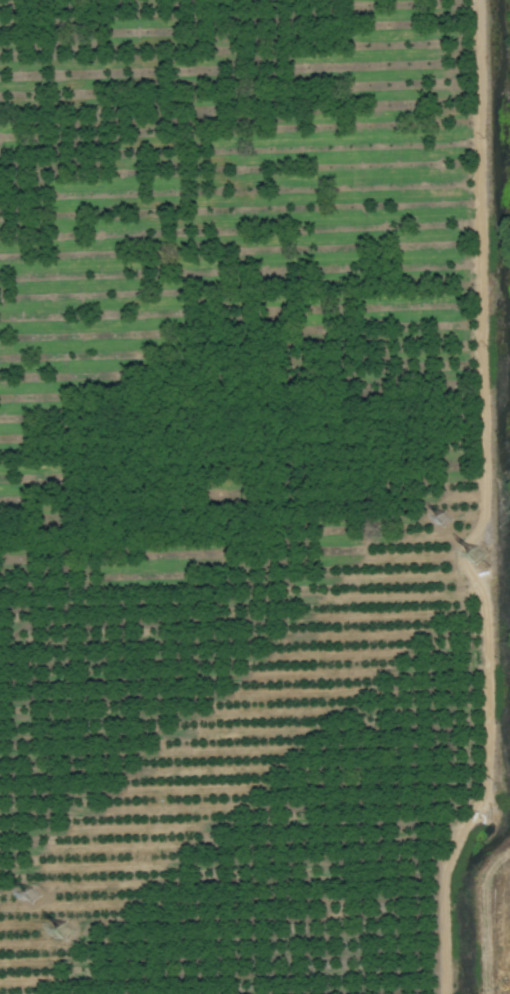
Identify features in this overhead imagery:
power tower: (441, 522)
power tower: (474, 558)
power tower: (29, 898)
power tower: (65, 933)

